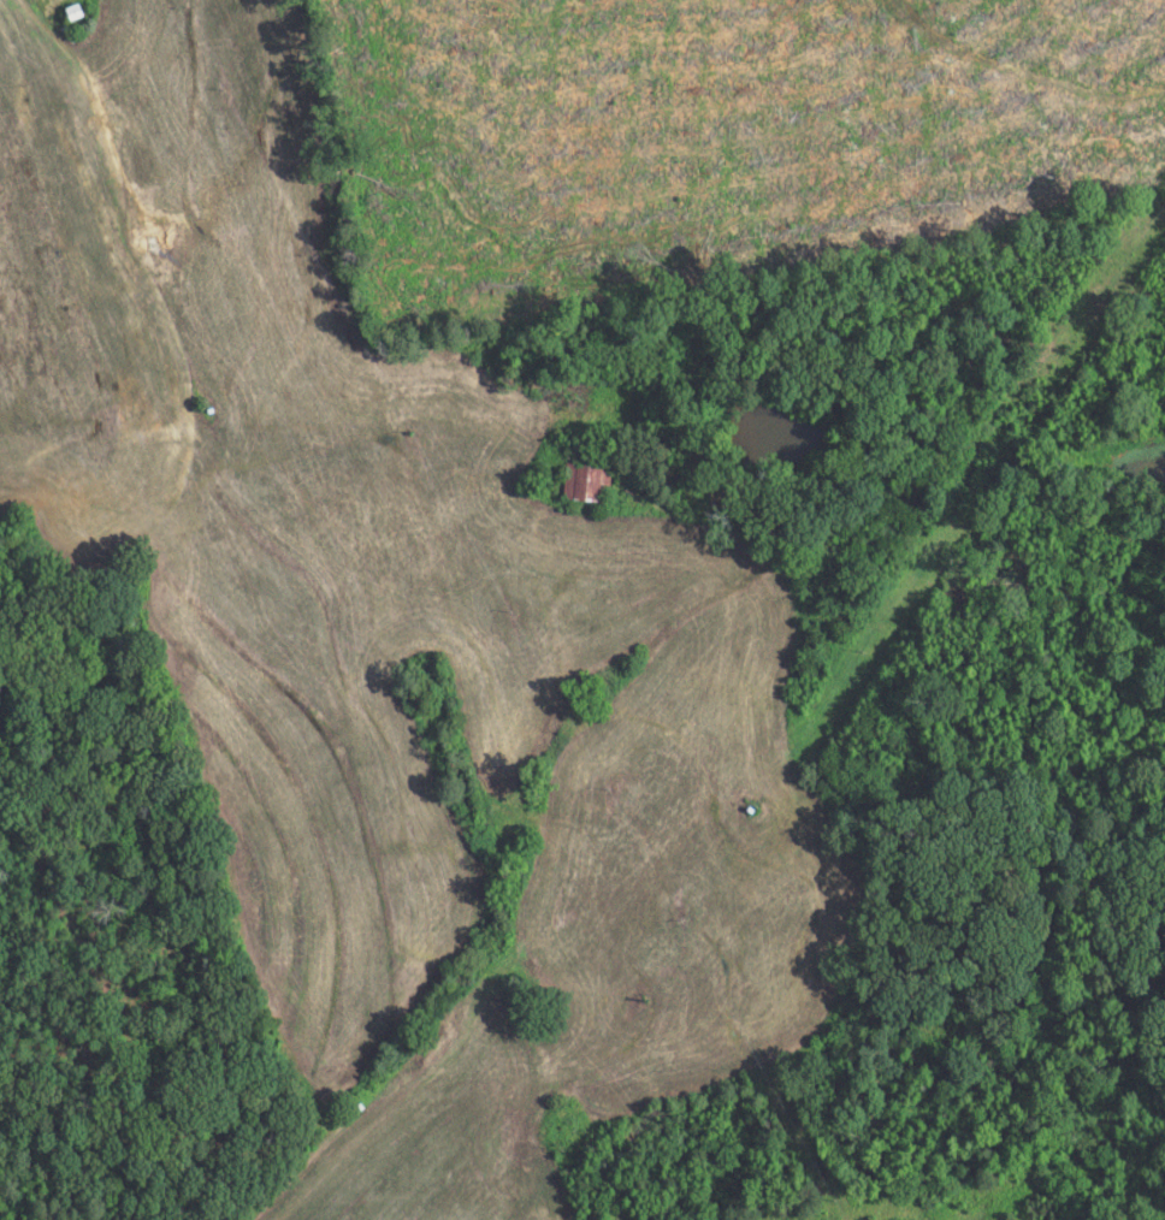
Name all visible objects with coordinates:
building: (76, 11)
building: (592, 484)

